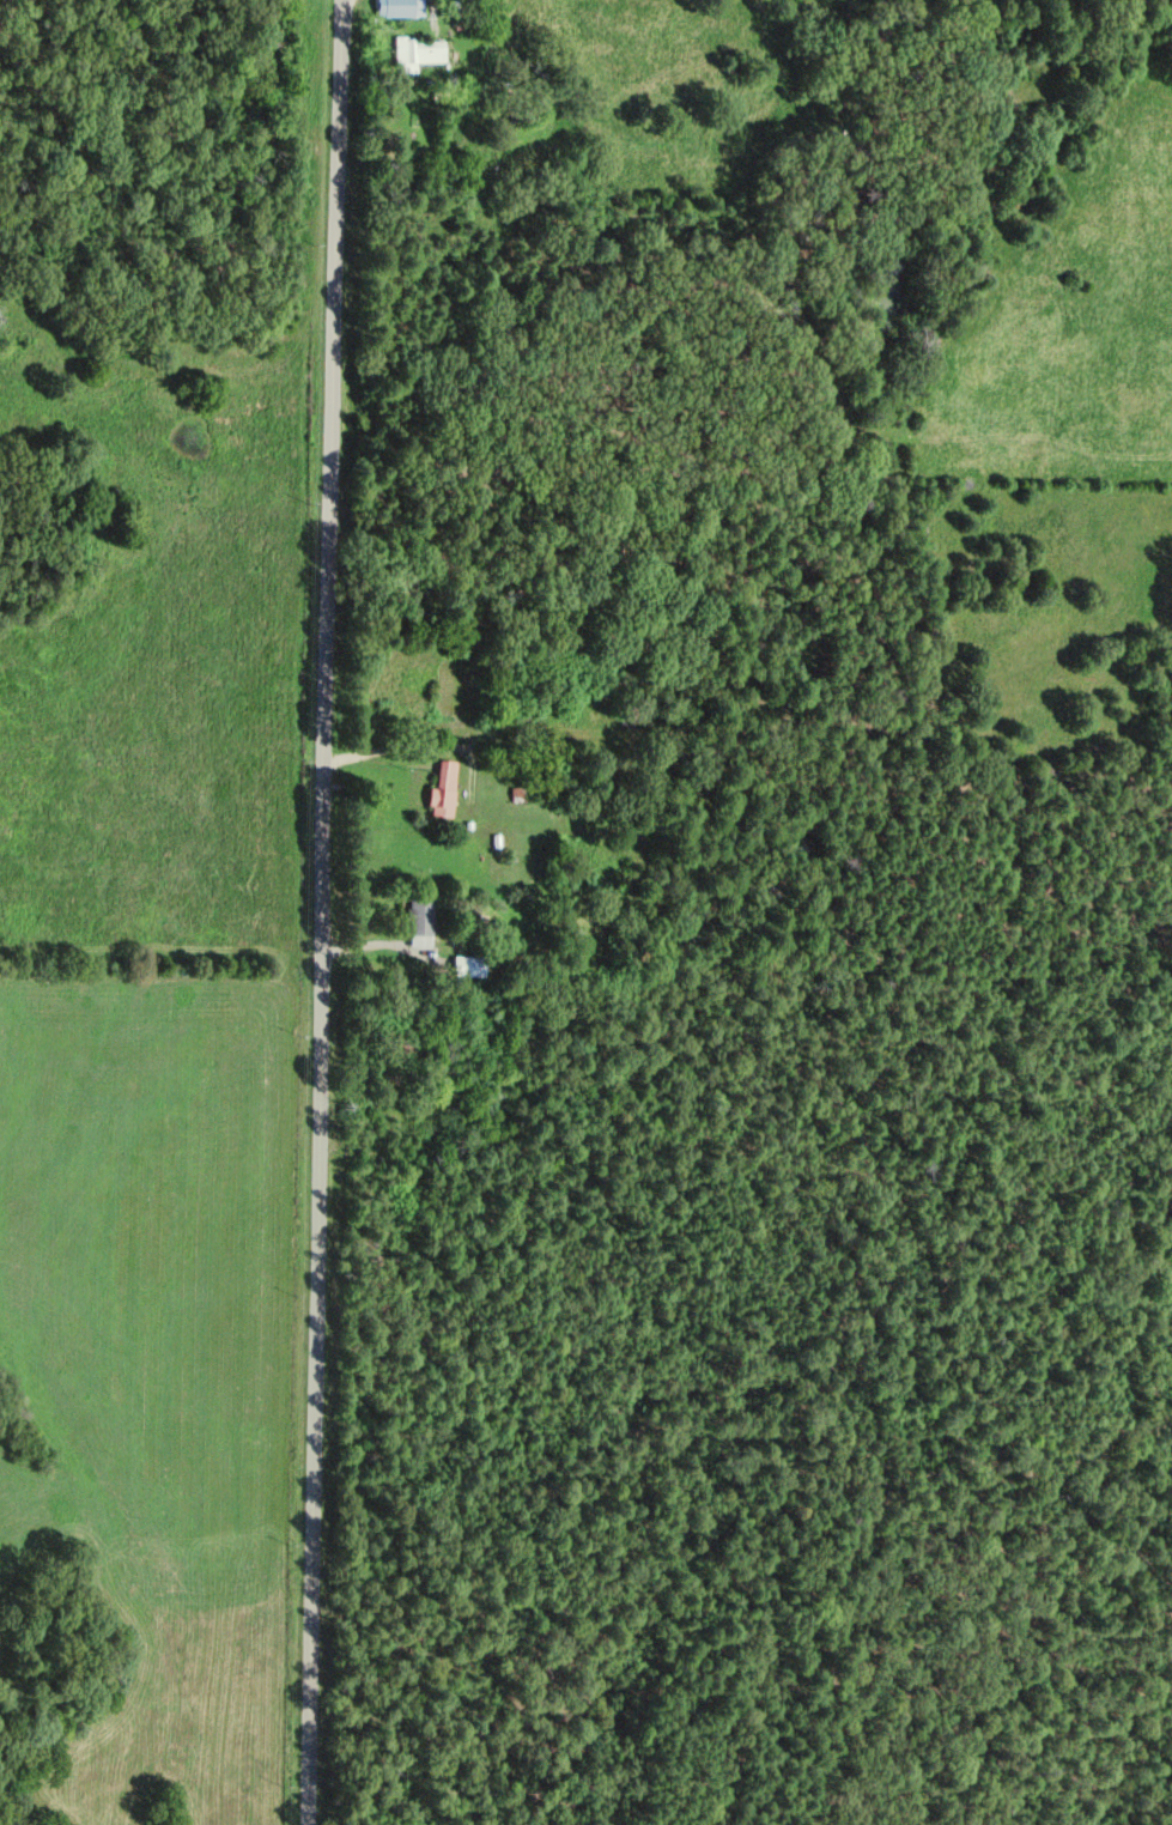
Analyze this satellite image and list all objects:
building: (401, 7)
building: (423, 51)
building: (447, 790)
road: (324, 912)
building: (423, 922)

